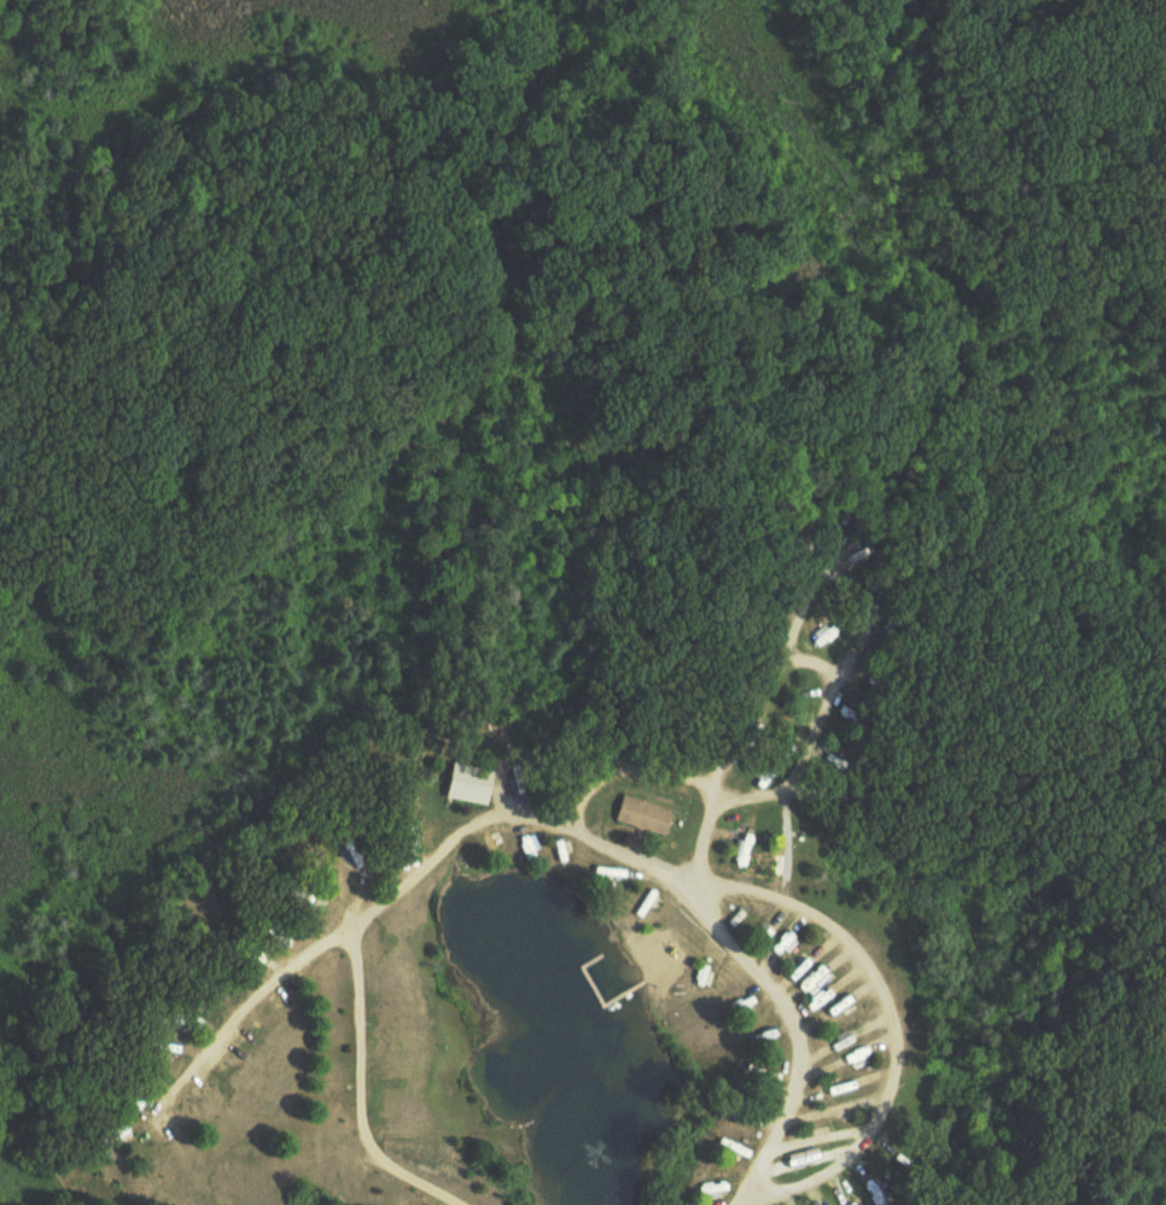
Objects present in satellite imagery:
park: (773, 238)
road: (864, 596)
building: (828, 634)
road: (811, 661)
building: (859, 721)
road: (670, 774)
building: (646, 815)
road: (555, 830)
building: (356, 854)
building: (791, 938)
building: (810, 966)
building: (833, 992)
building: (746, 1006)
road: (888, 1013)
road: (351, 1090)
building: (132, 1099)

